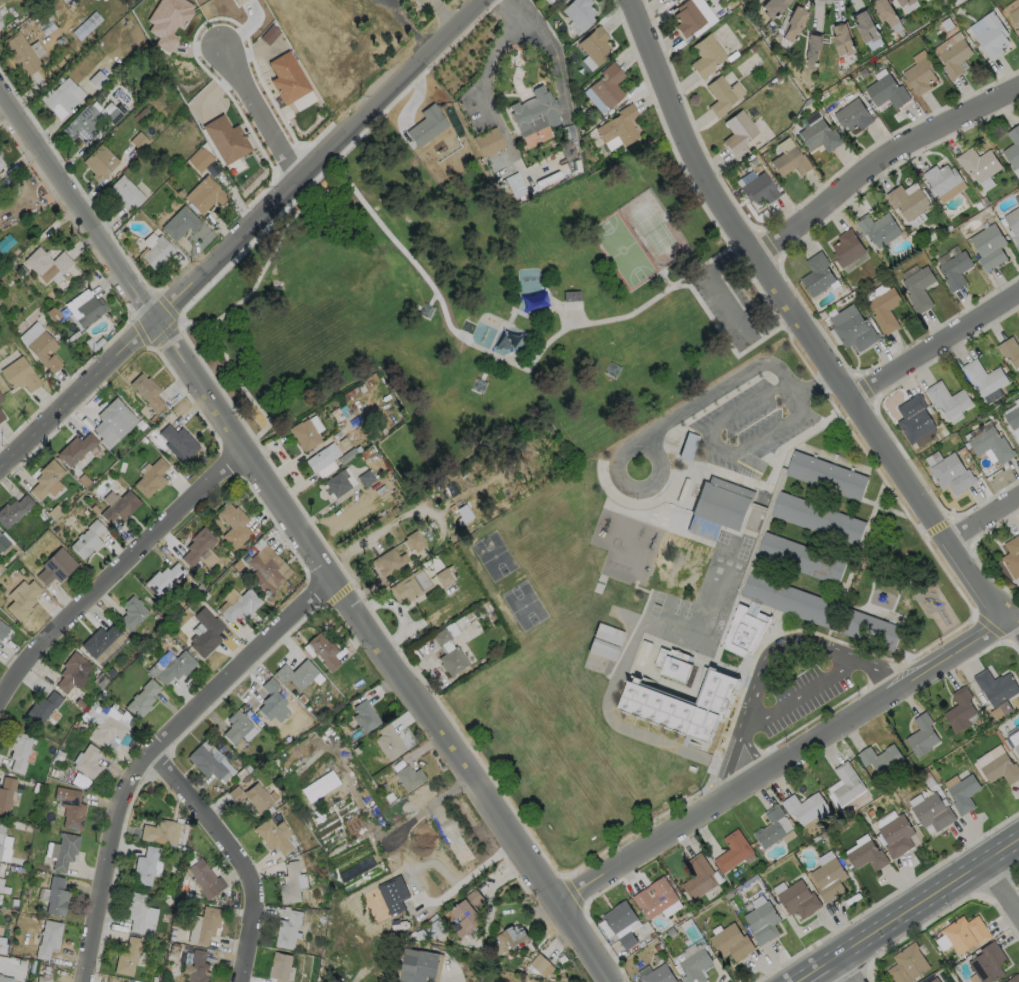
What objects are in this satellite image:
building: (553, 0)
building: (670, 0)
building: (239, 1)
building: (177, 2)
building: (905, 2)
building: (152, 7)
building: (771, 7)
building: (885, 11)
building: (578, 12)
road: (443, 16)
building: (687, 17)
building: (77, 19)
building: (1015, 19)
building: (791, 22)
building: (0, 24)
road: (409, 26)
building: (866, 27)
building: (992, 35)
building: (843, 39)
road: (547, 45)
building: (594, 45)
building: (811, 50)
building: (20, 52)
building: (705, 55)
building: (954, 57)
building: (920, 75)
building: (287, 78)
building: (607, 85)
building: (886, 91)
building: (60, 95)
building: (719, 95)
road: (257, 108)
road: (487, 108)
building: (532, 111)
building: (853, 115)
building: (82, 123)
building: (618, 125)
building: (426, 126)
building: (737, 131)
building: (819, 135)
building: (225, 139)
building: (138, 140)
building: (487, 142)
building: (1012, 147)
building: (200, 160)
building: (99, 161)
building: (790, 161)
road: (878, 162)
building: (1, 163)
building: (978, 163)
building: (0, 166)
building: (942, 179)
building: (758, 188)
building: (125, 192)
building: (204, 194)
building: (1017, 198)
building: (907, 202)
building: (180, 223)
building: (1013, 224)
building: (875, 226)
park: (654, 229)
road: (242, 237)
building: (989, 246)
building: (847, 248)
building: (157, 252)
park: (622, 252)
building: (45, 262)
building: (955, 270)
building: (817, 274)
building: (919, 288)
building: (570, 289)
road: (255, 290)
park: (476, 306)
road: (646, 306)
road: (729, 306)
parking lot: (731, 306)
building: (885, 309)
building: (89, 310)
road: (200, 325)
road: (797, 325)
building: (30, 332)
building: (855, 332)
road: (731, 346)
road: (932, 346)
building: (1010, 350)
building: (43, 351)
building: (19, 375)
road: (214, 375)
building: (982, 377)
road: (728, 383)
building: (146, 391)
building: (0, 399)
building: (948, 399)
building: (1, 417)
building: (1012, 417)
building: (914, 418)
building: (112, 421)
building: (304, 435)
building: (177, 443)
building: (991, 444)
road: (722, 447)
building: (690, 448)
building: (75, 449)
building: (322, 457)
building: (951, 473)
building: (829, 477)
building: (44, 478)
building: (150, 478)
building: (336, 484)
building: (722, 504)
building: (118, 505)
road: (424, 509)
building: (13, 510)
building: (820, 519)
road: (983, 520)
building: (233, 525)
road: (301, 537)
building: (87, 539)
building: (414, 541)
building: (3, 542)
road: (358, 542)
building: (196, 545)
building: (1013, 557)
building: (803, 559)
building: (388, 562)
building: (55, 566)
road: (116, 570)
building: (264, 574)
building: (445, 575)
building: (163, 578)
building: (410, 586)
building: (21, 598)
building: (791, 600)
building: (240, 606)
building: (131, 613)
road: (1016, 620)
building: (2, 630)
building: (469, 631)
building: (872, 631)
building: (745, 632)
building: (205, 633)
building: (605, 641)
building: (103, 643)
building: (324, 651)
road: (767, 652)
building: (452, 661)
building: (673, 665)
building: (175, 667)
building: (70, 671)
building: (297, 673)
building: (997, 687)
road: (797, 693)
building: (271, 699)
building: (141, 700)
building: (681, 706)
building: (44, 709)
building: (959, 710)
building: (94, 714)
building: (364, 716)
building: (236, 726)
building: (109, 731)
building: (921, 735)
building: (388, 742)
building: (1017, 748)
building: (20, 750)
road: (157, 752)
road: (785, 758)
building: (880, 758)
building: (87, 762)
building: (206, 762)
building: (1002, 770)
building: (408, 777)
building: (846, 782)
building: (6, 793)
building: (963, 793)
building: (250, 796)
building: (804, 806)
building: (72, 811)
building: (933, 812)
building: (772, 826)
building: (158, 832)
building: (273, 835)
building: (896, 835)
building: (4, 843)
building: (733, 849)
building: (62, 851)
road: (244, 855)
building: (866, 855)
crop: (389, 865)
building: (144, 866)
road: (471, 875)
building: (698, 876)
building: (201, 878)
building: (828, 879)
building: (290, 883)
building: (1, 884)
road: (1001, 886)
building: (394, 892)
building: (55, 897)
building: (654, 897)
building: (797, 899)
road: (906, 909)
building: (136, 911)
building: (464, 912)
building: (619, 916)
building: (761, 922)
building: (207, 925)
building: (289, 929)
building: (964, 933)
building: (510, 936)
building: (47, 939)
building: (730, 942)
building: (942, 942)
building: (126, 956)
building: (987, 962)
building: (907, 964)
building: (419, 965)
building: (541, 965)
building: (694, 965)
building: (196, 967)
building: (280, 967)
road: (846, 968)
building: (0, 974)
building: (657, 975)
building: (5, 979)
building: (42, 979)
building: (1014, 979)
building: (933, 980)

